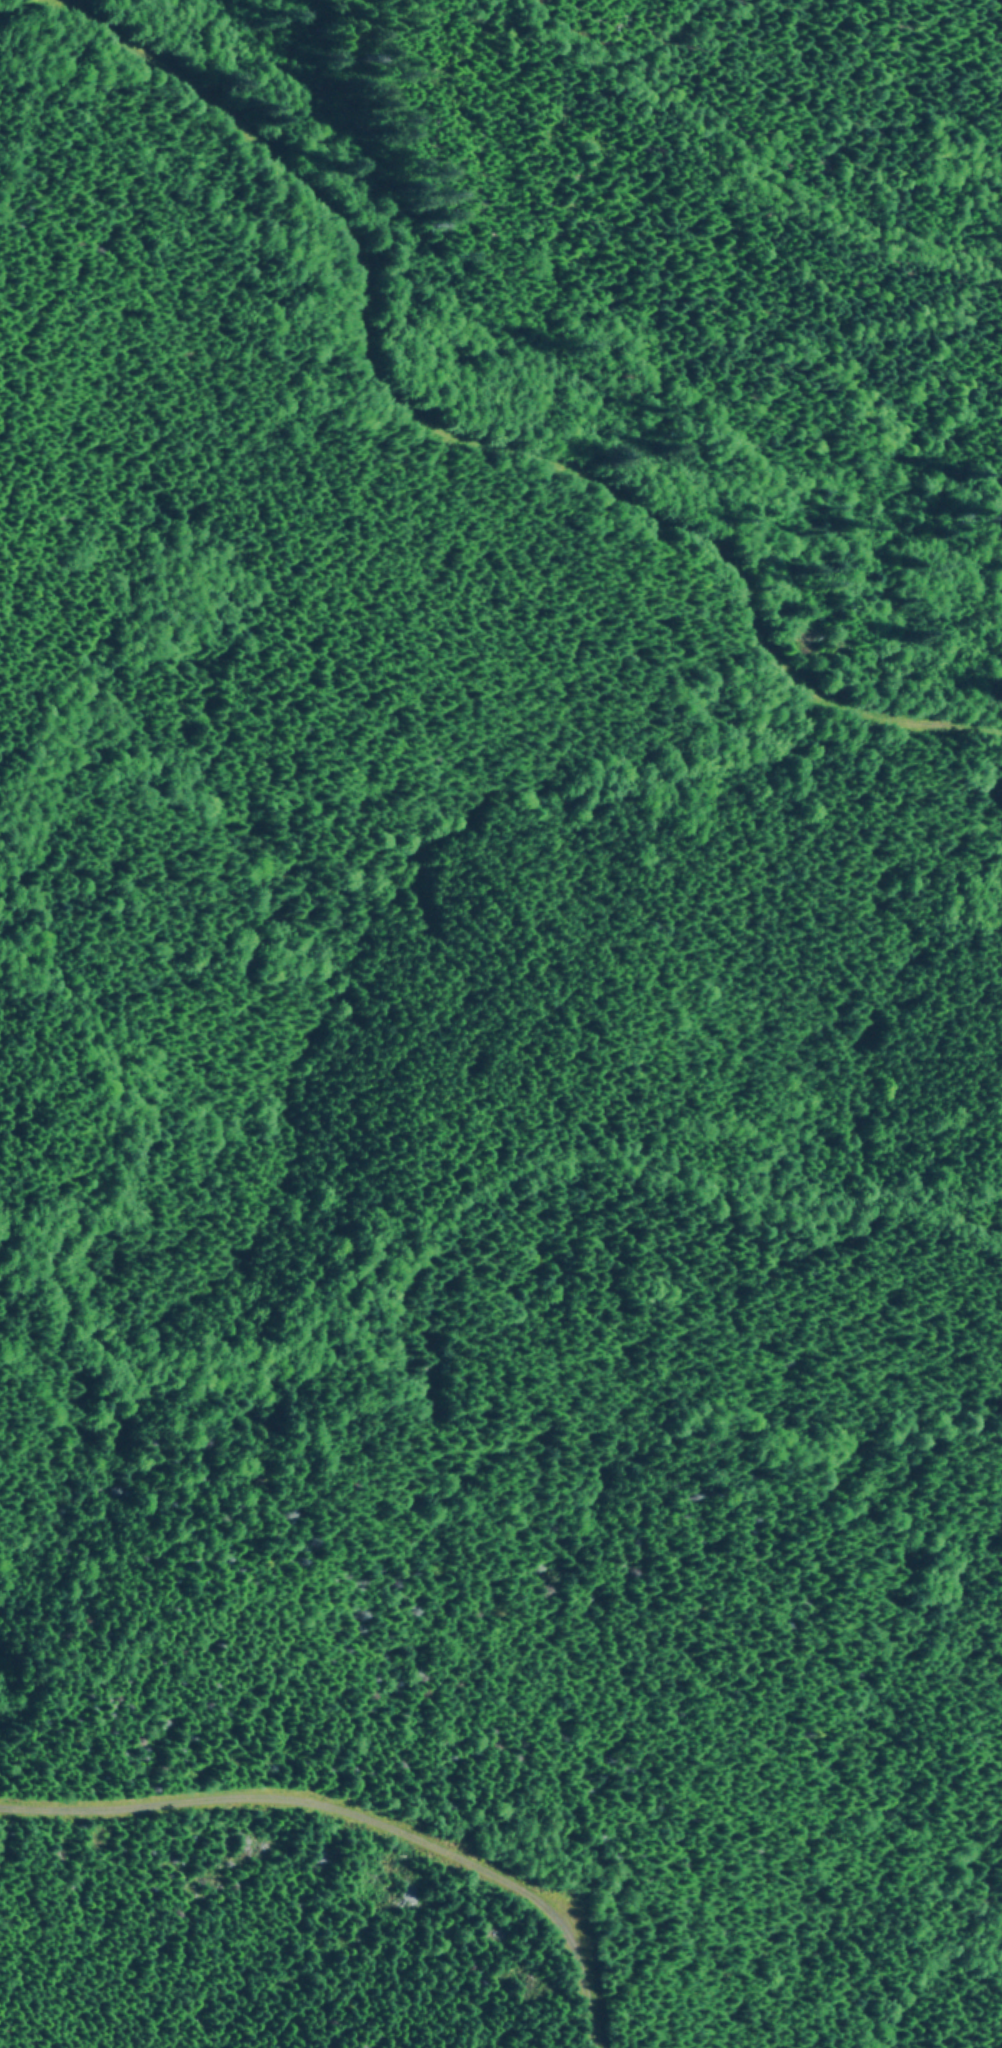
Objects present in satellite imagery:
road: (443, 463)
road: (364, 1824)

